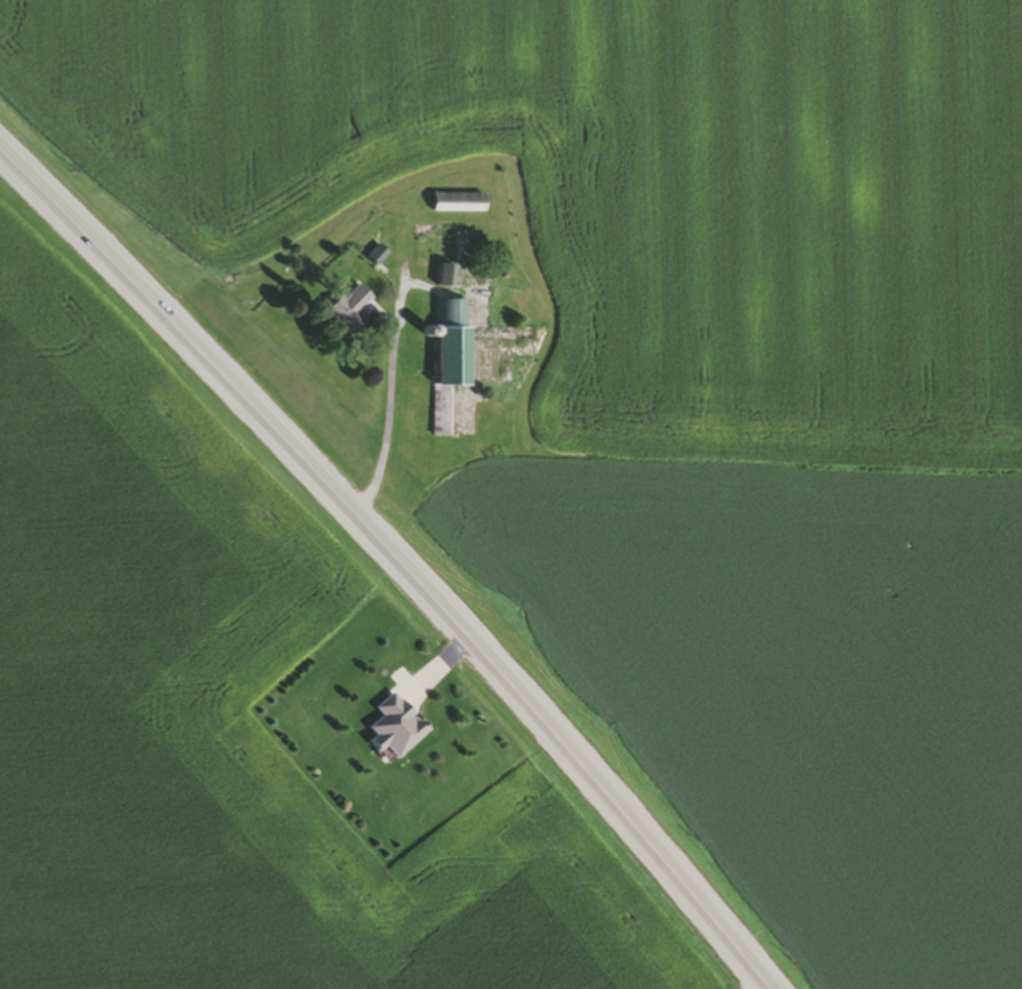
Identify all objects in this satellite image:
building: (453, 205)
building: (439, 279)
building: (344, 313)
building: (444, 363)
road: (386, 386)
road: (417, 545)

